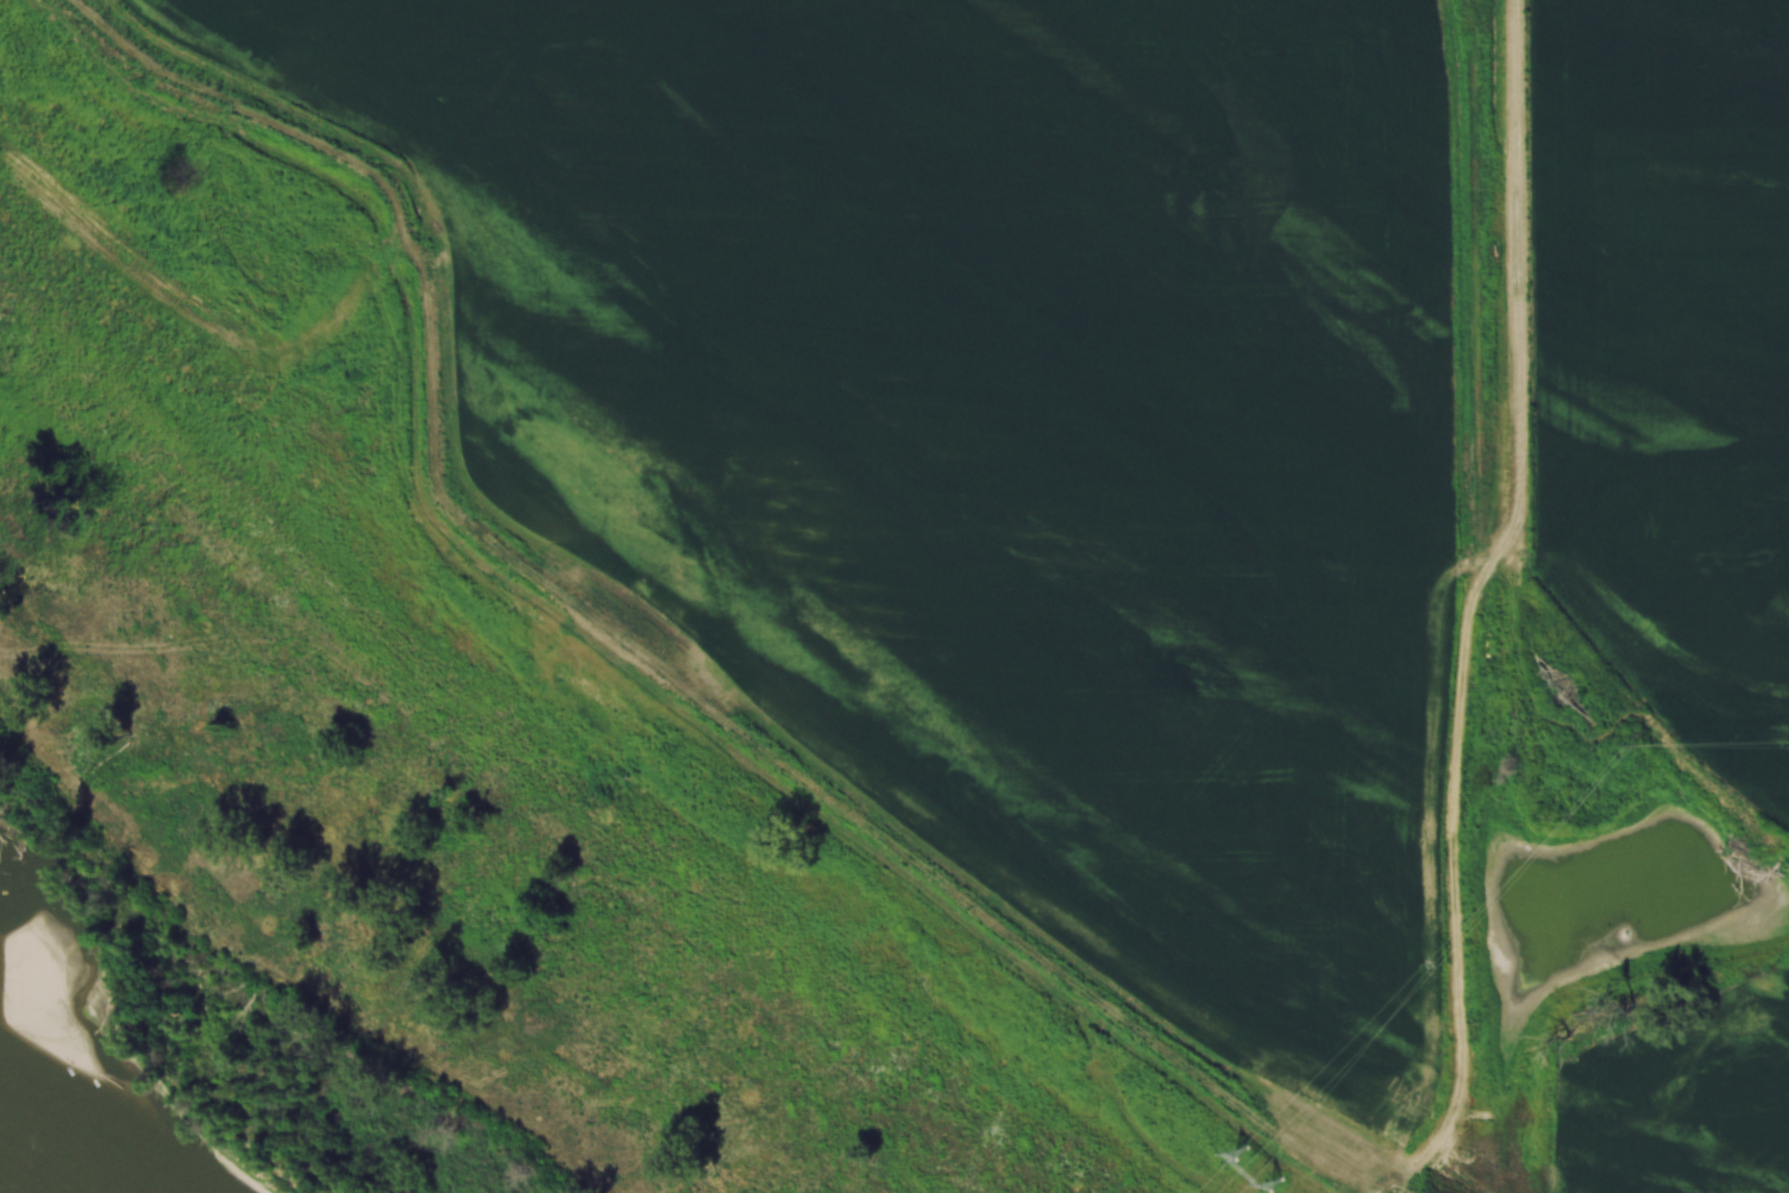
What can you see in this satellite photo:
road: (1513, 69)
power tower: (1649, 746)
power tower: (1450, 962)
power tower: (1260, 1169)

